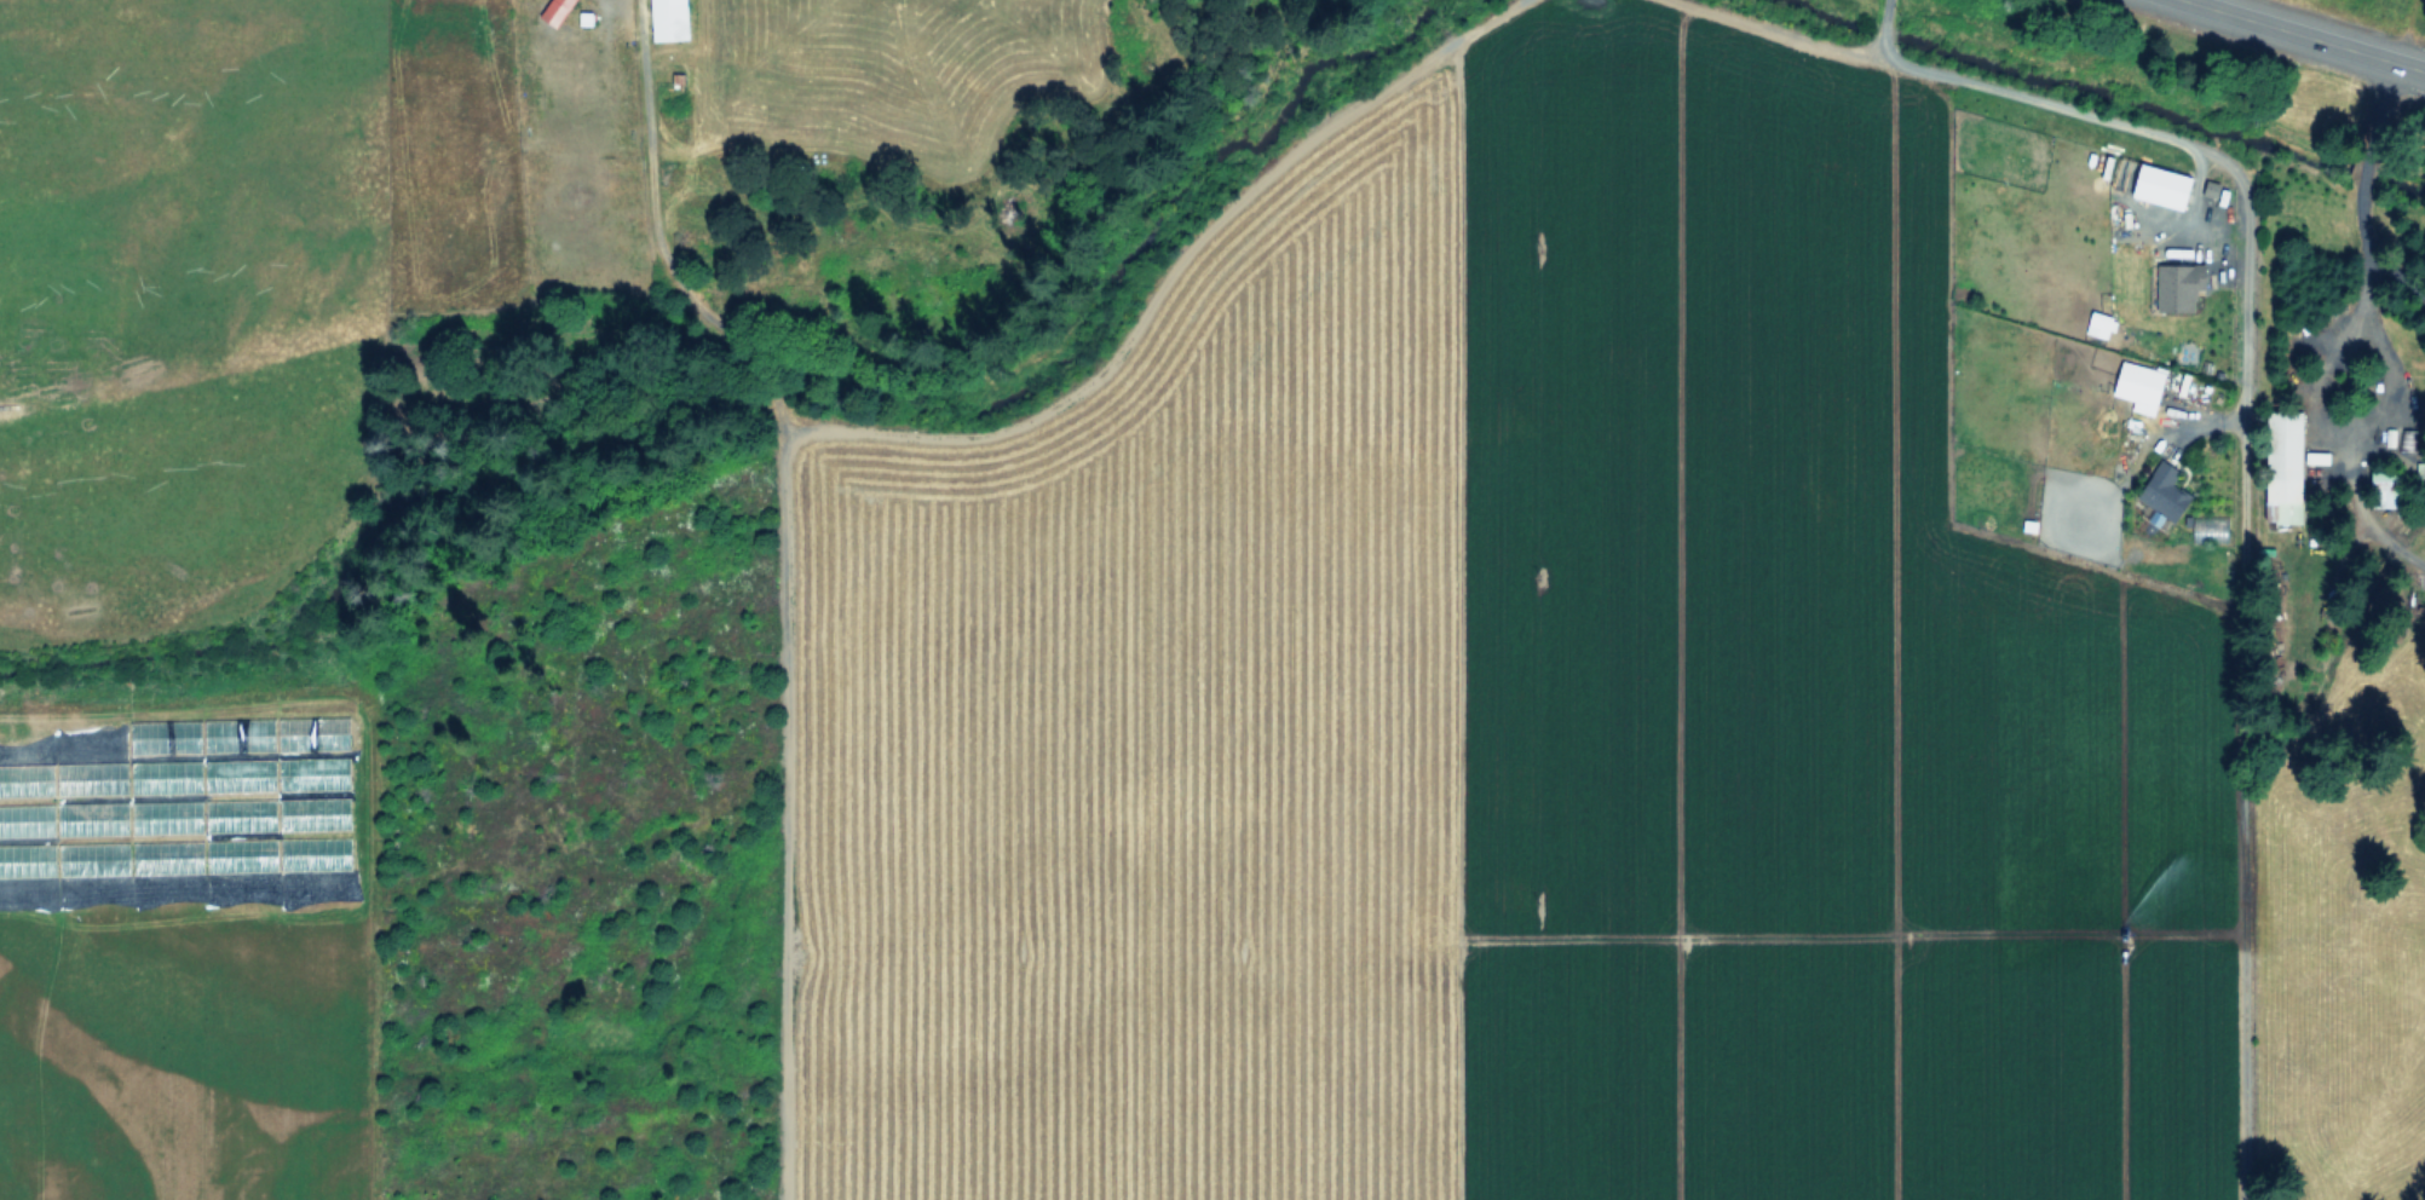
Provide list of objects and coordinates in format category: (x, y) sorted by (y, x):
road: (1887, 7)
building: (557, 10)
building: (672, 19)
road: (2289, 29)
road: (1885, 30)
road: (2408, 64)
road: (2380, 98)
road: (2367, 150)
building: (2153, 184)
road: (2235, 198)
road: (2389, 270)
building: (2173, 284)
road: (2366, 293)
building: (2135, 383)
building: (2312, 456)
building: (2279, 467)
building: (2158, 492)
road: (789, 579)
crop: (1628, 674)
building: (241, 733)
building: (315, 733)
building: (167, 735)
building: (315, 773)
building: (240, 774)
building: (166, 775)
building: (92, 778)
building: (27, 779)
building: (313, 812)
building: (240, 813)
building: (166, 814)
building: (92, 818)
building: (27, 819)
building: (241, 853)
building: (315, 853)
building: (167, 855)
building: (93, 858)
building: (27, 859)

